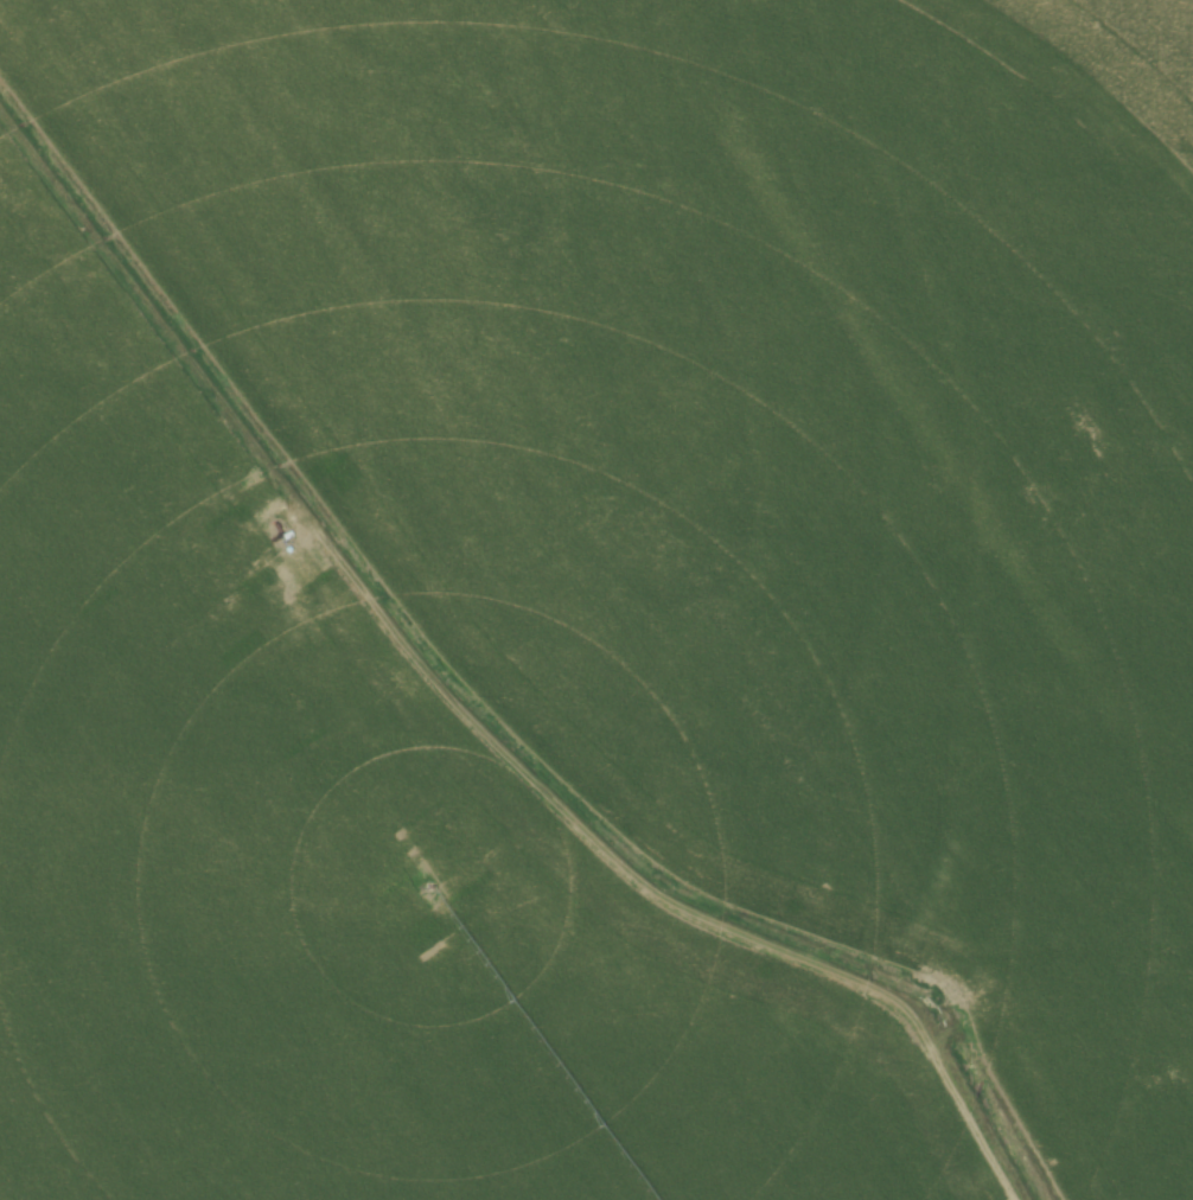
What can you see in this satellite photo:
crop: (588, 607)

